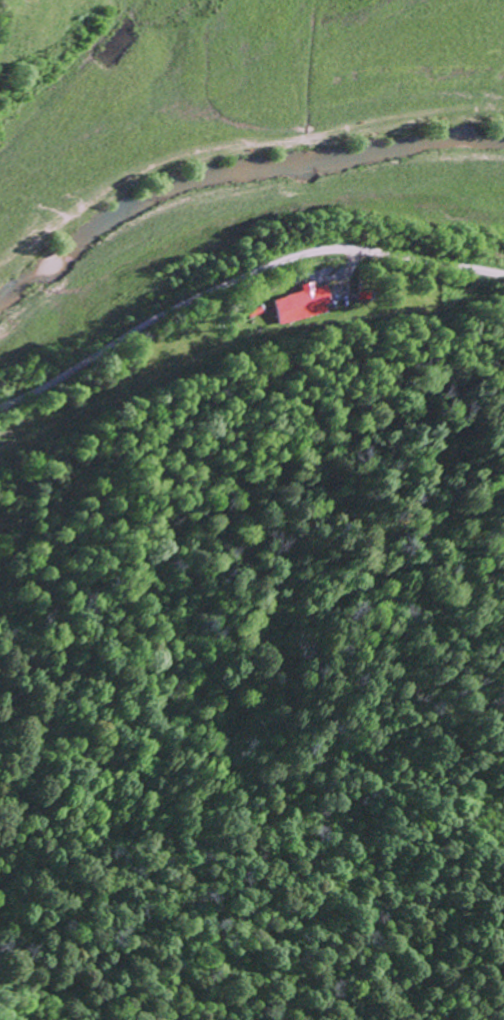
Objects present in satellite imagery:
road: (238, 277)
building: (301, 303)

